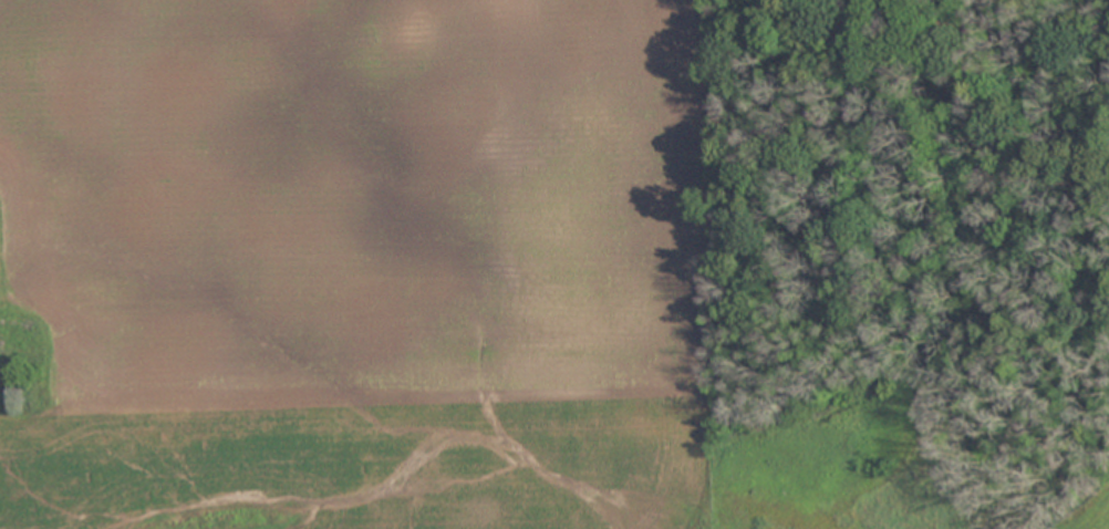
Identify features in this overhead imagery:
crop: (1086, 512)

